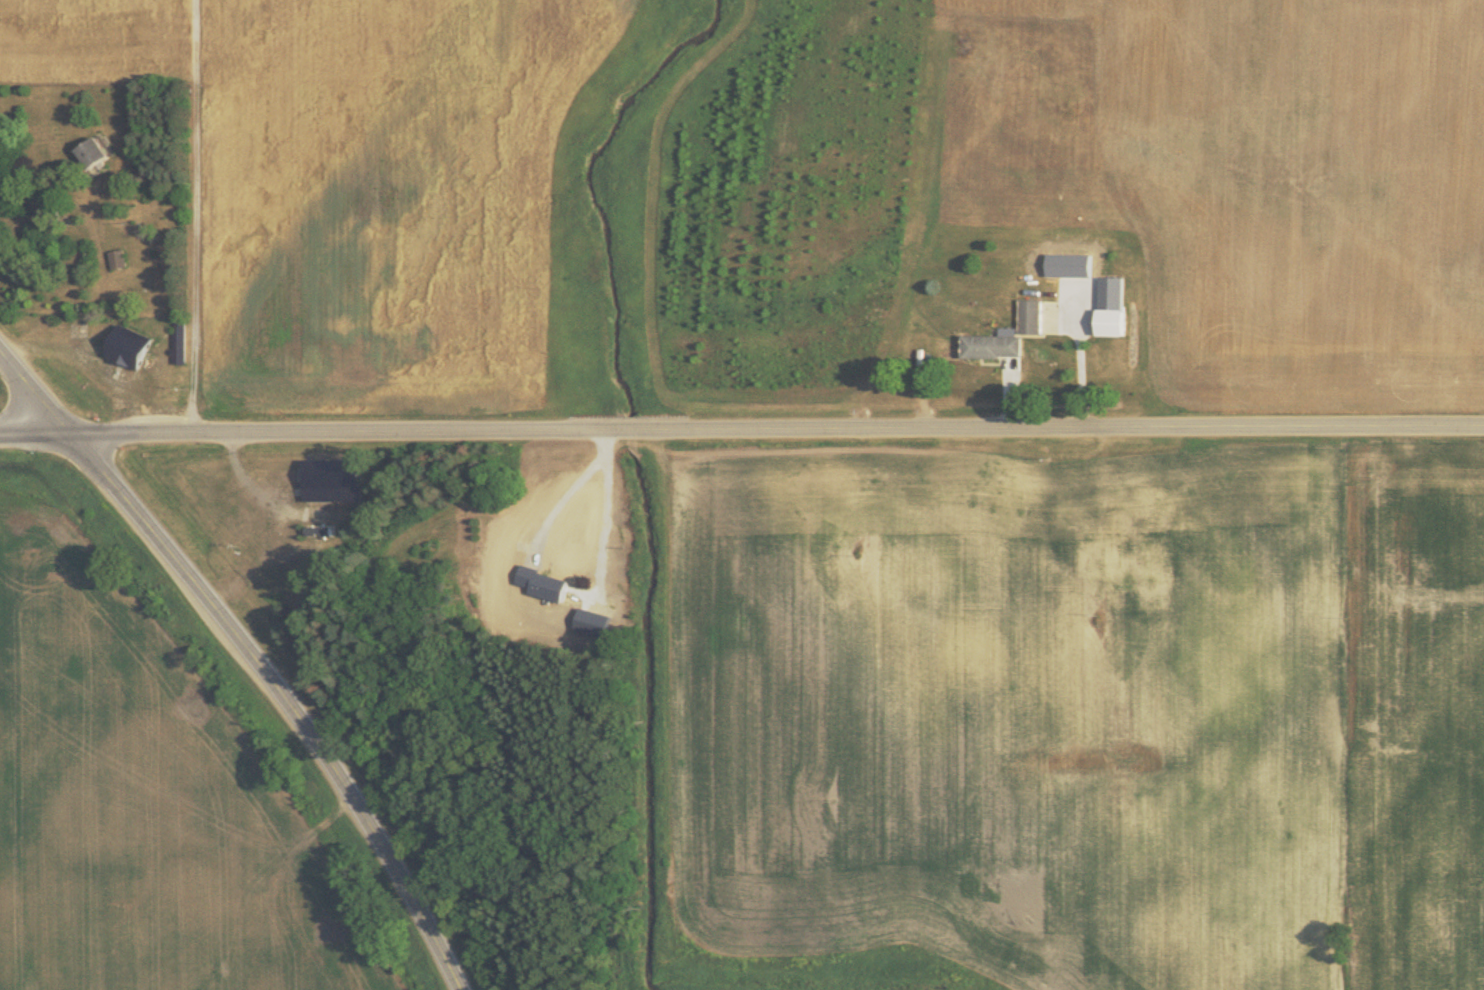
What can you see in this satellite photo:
building: (87, 150)
building: (115, 258)
building: (1109, 305)
building: (1029, 315)
building: (123, 345)
building: (990, 345)
road: (778, 430)
road: (37, 434)
building: (547, 586)
road: (250, 655)

